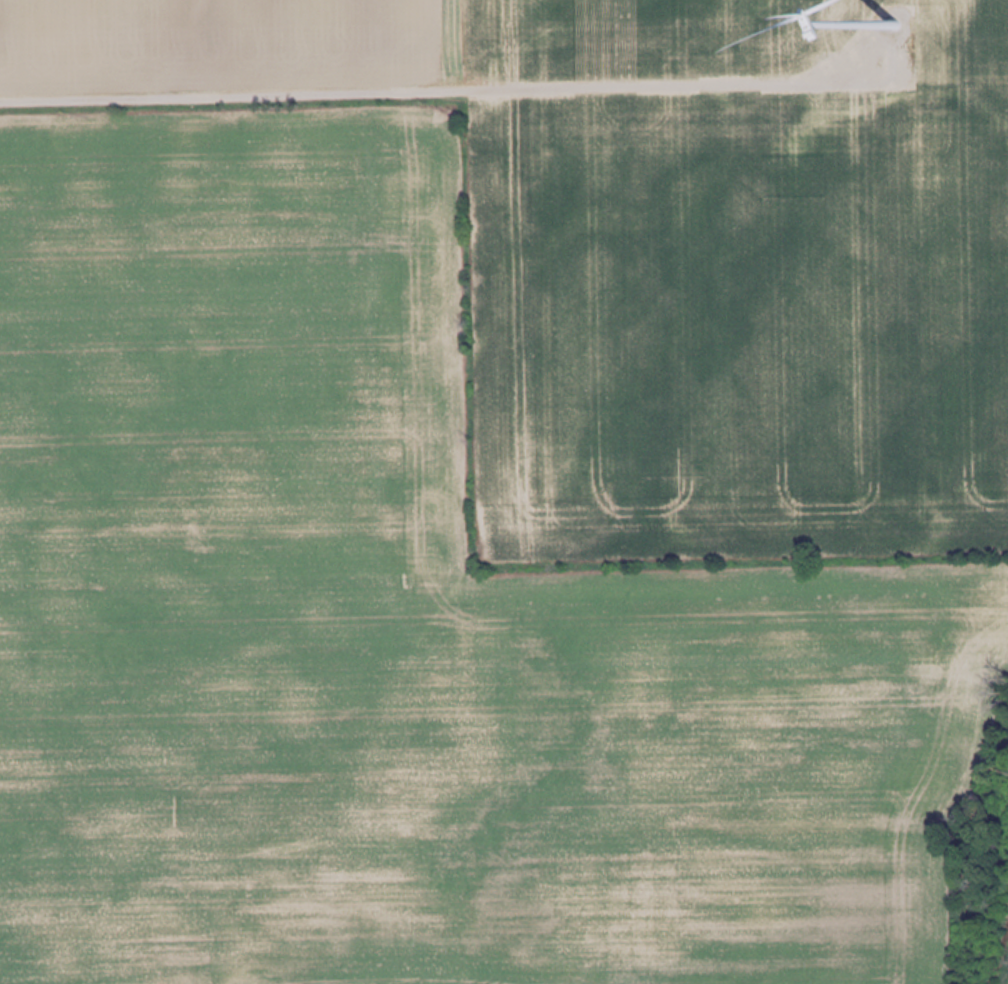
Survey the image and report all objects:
wind turbine: (882, 19)
road: (436, 90)

